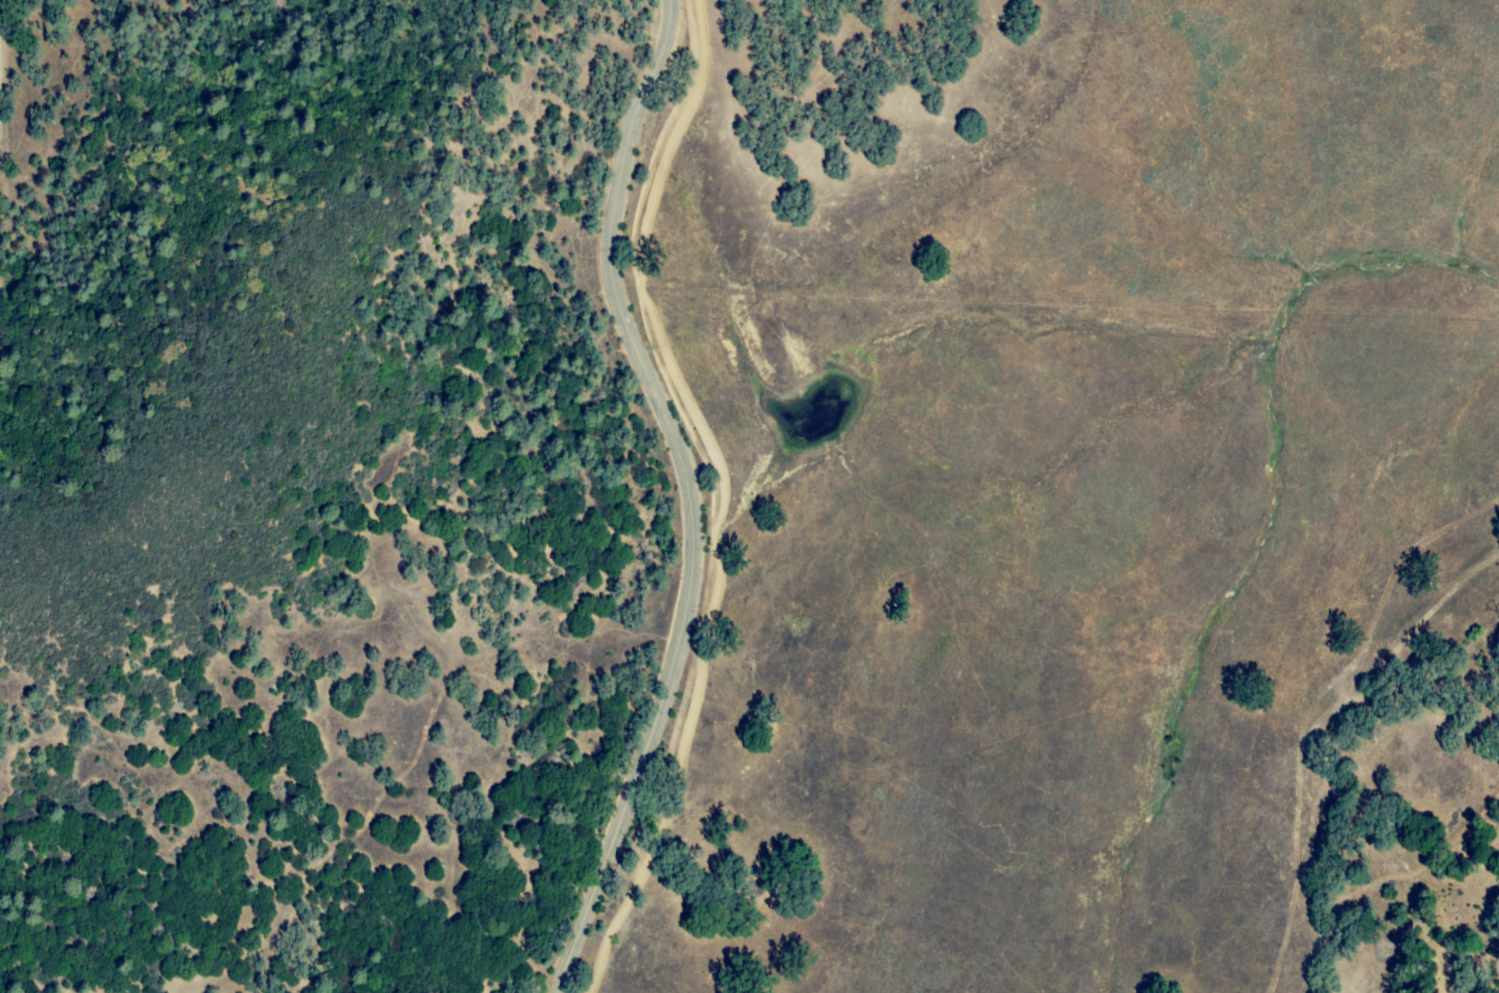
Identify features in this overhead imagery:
road: (1, 16)
road: (692, 497)
road: (1346, 752)
road: (1418, 803)
road: (503, 977)

